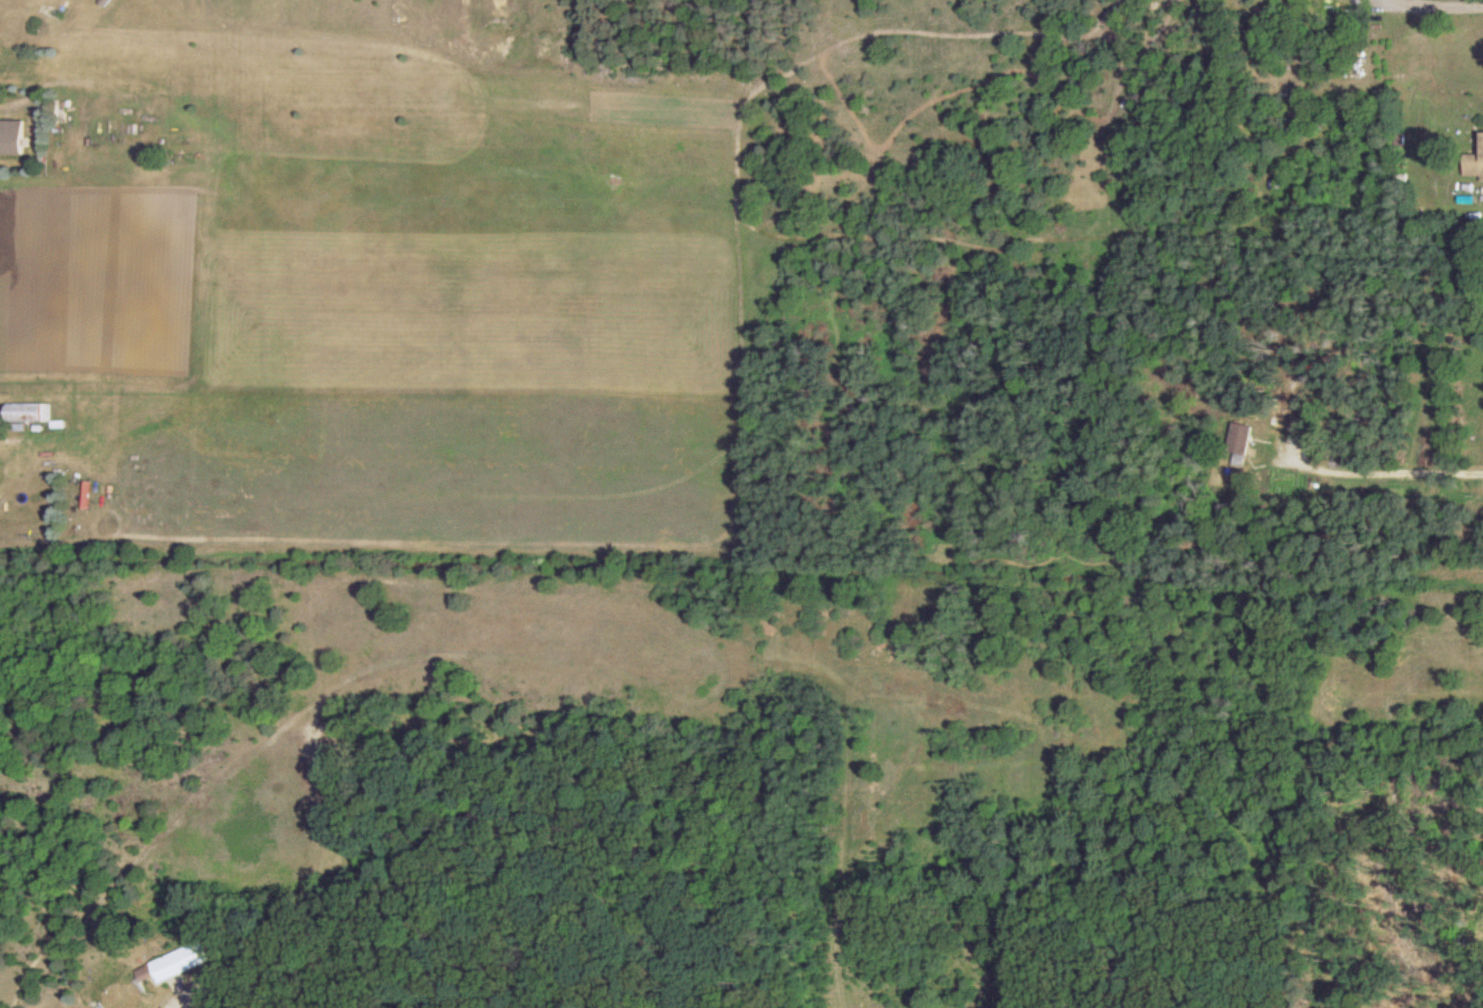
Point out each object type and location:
road: (1446, 3)
building: (11, 135)
building: (1474, 165)
building: (29, 411)
building: (1299, 425)
building: (1240, 443)
road: (1385, 470)
building: (176, 961)
road: (174, 1007)

